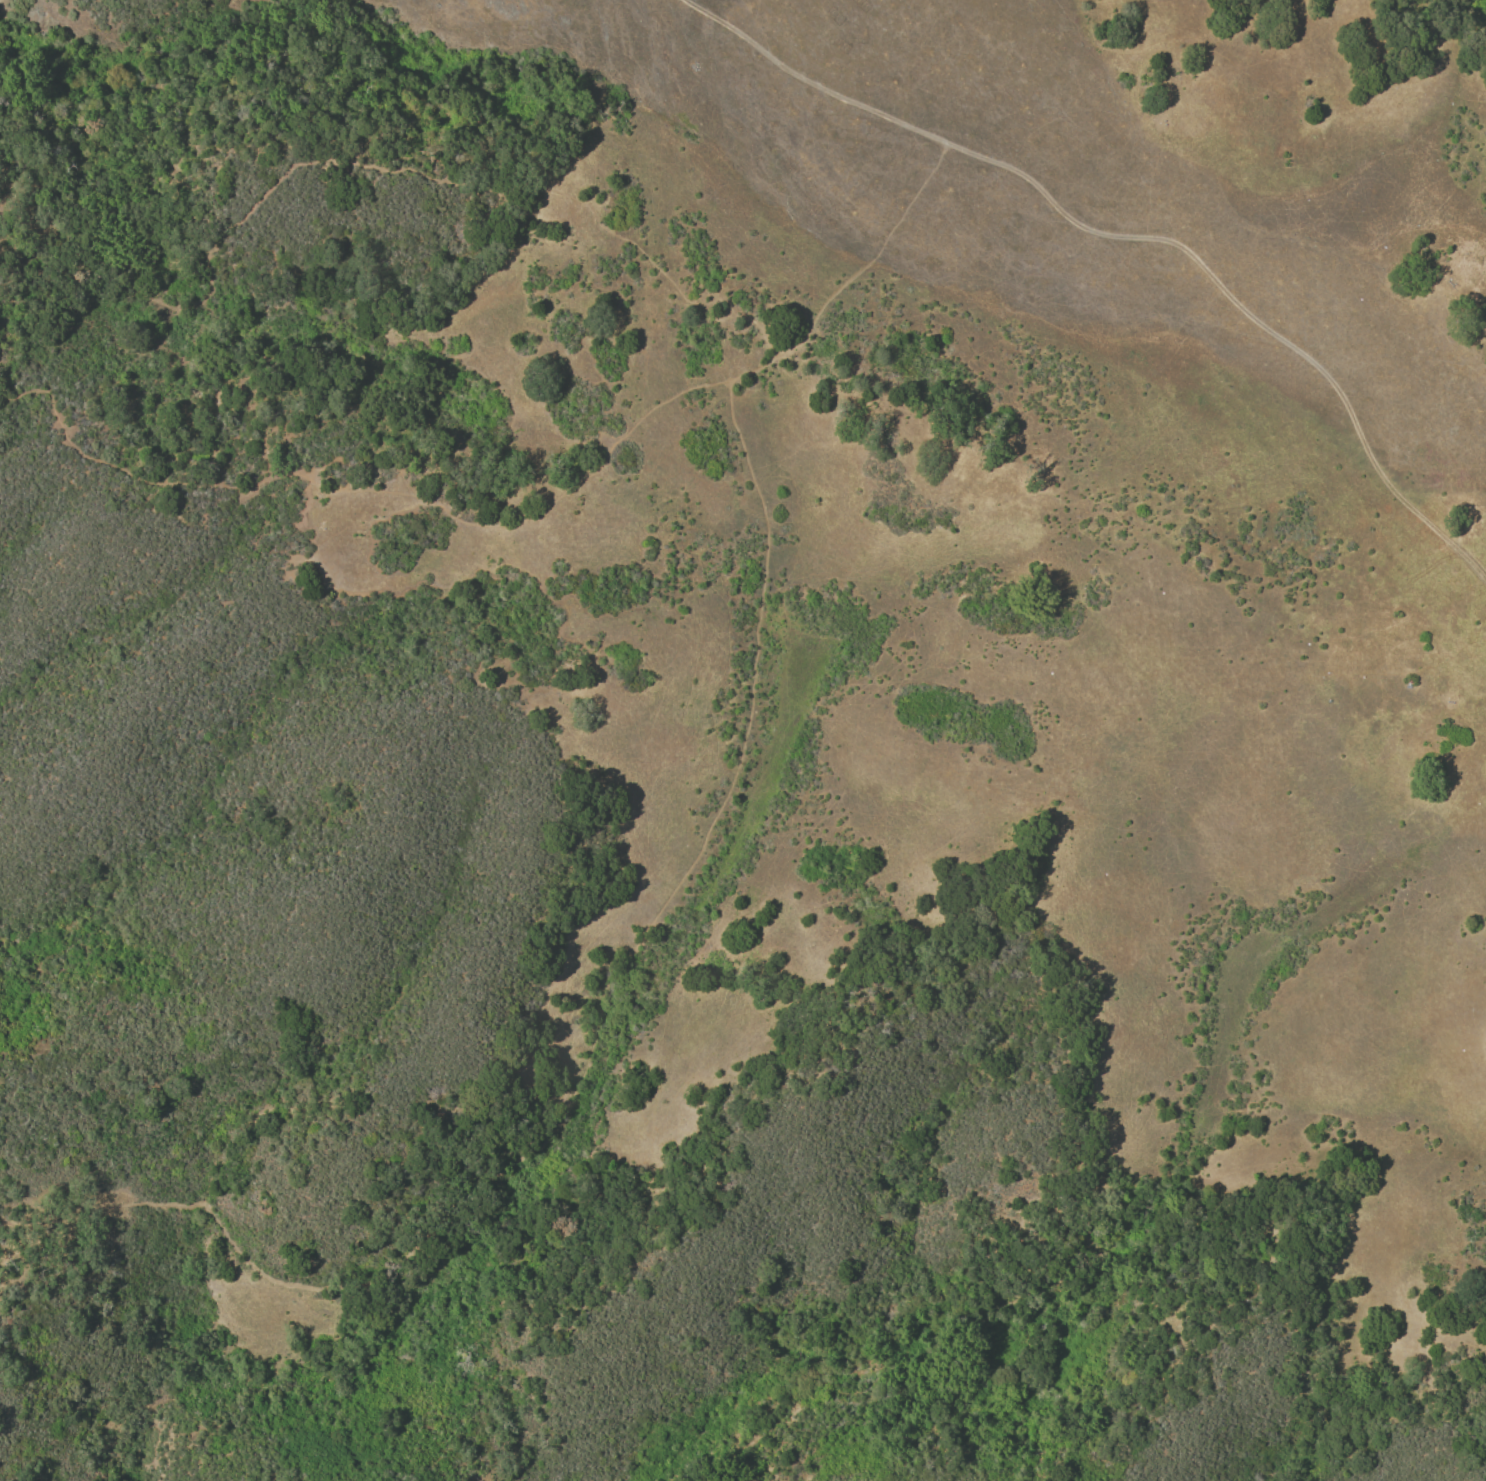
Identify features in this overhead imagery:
road: (1132, 233)
road: (750, 684)

